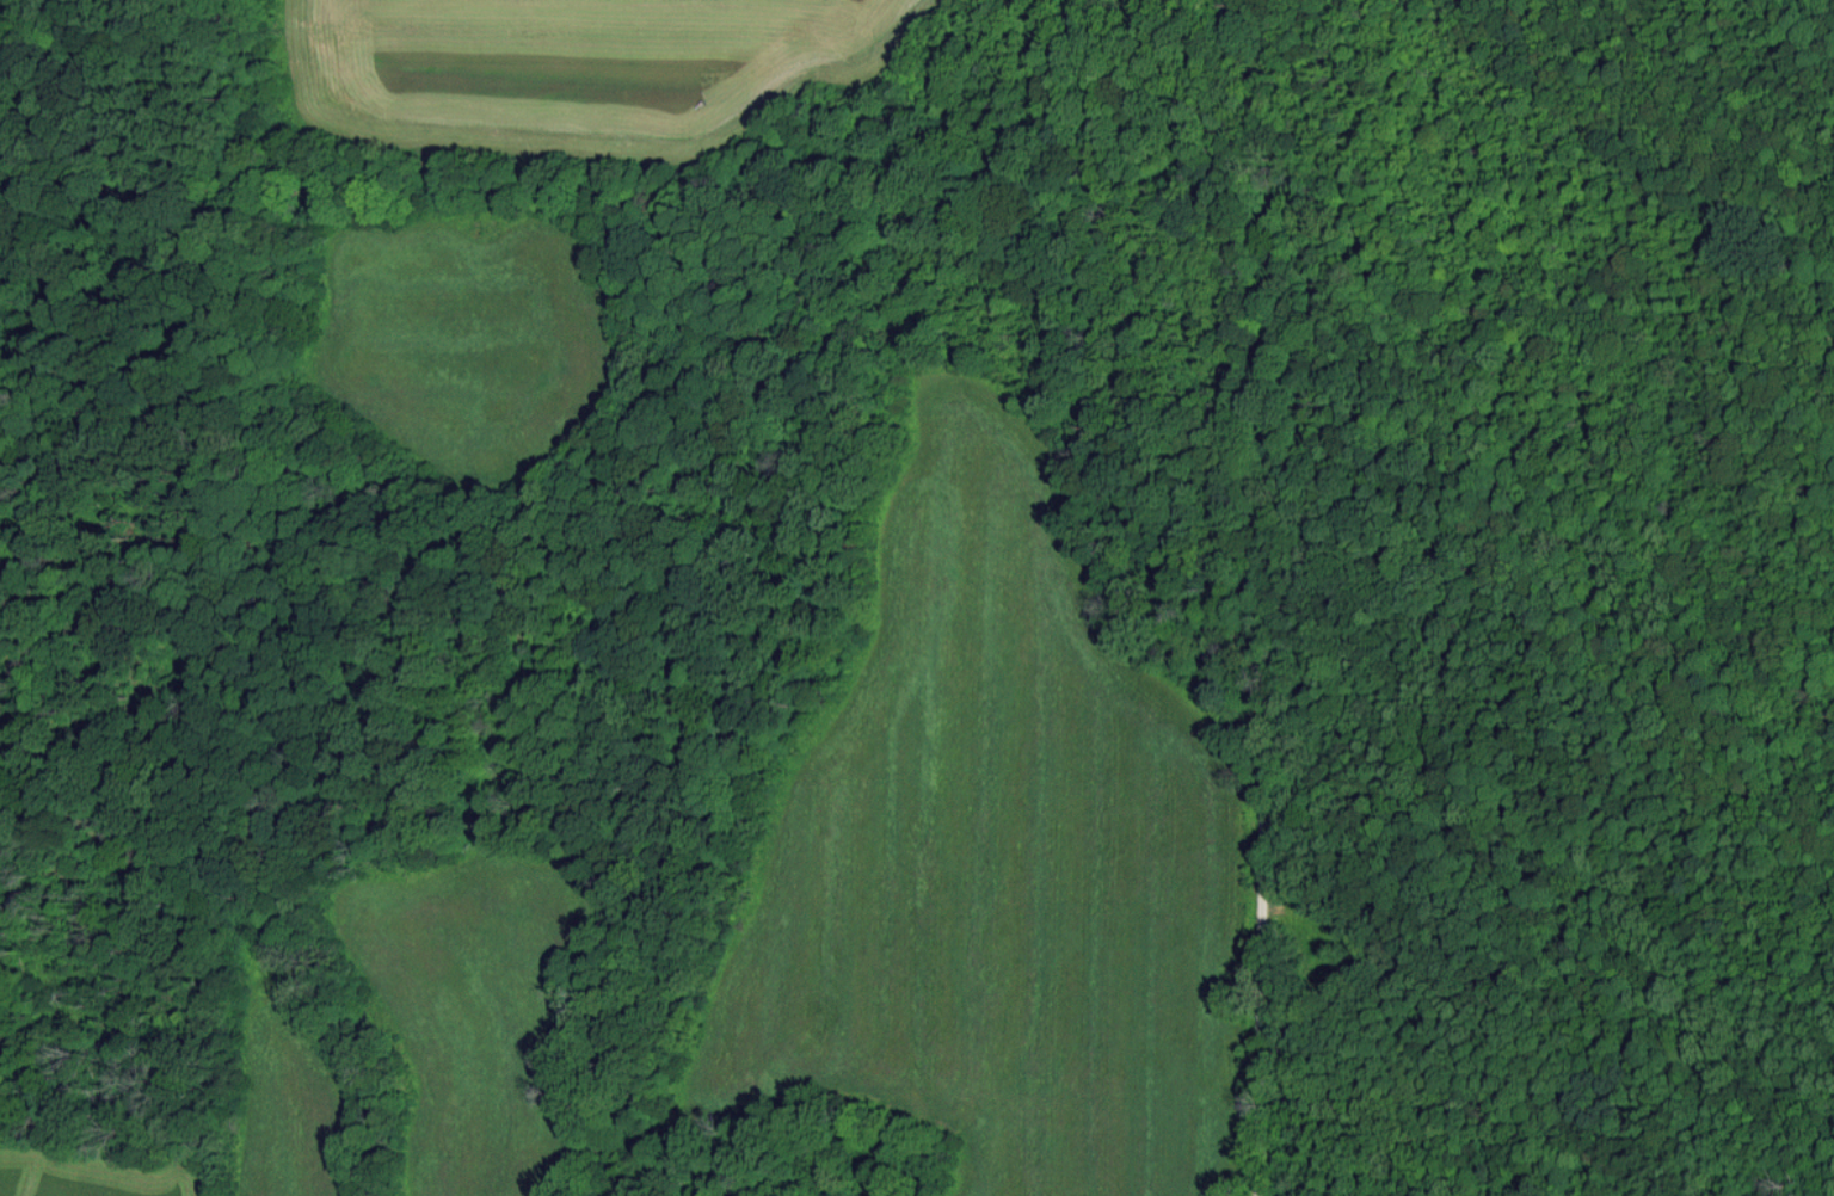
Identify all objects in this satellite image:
road: (1270, 598)

